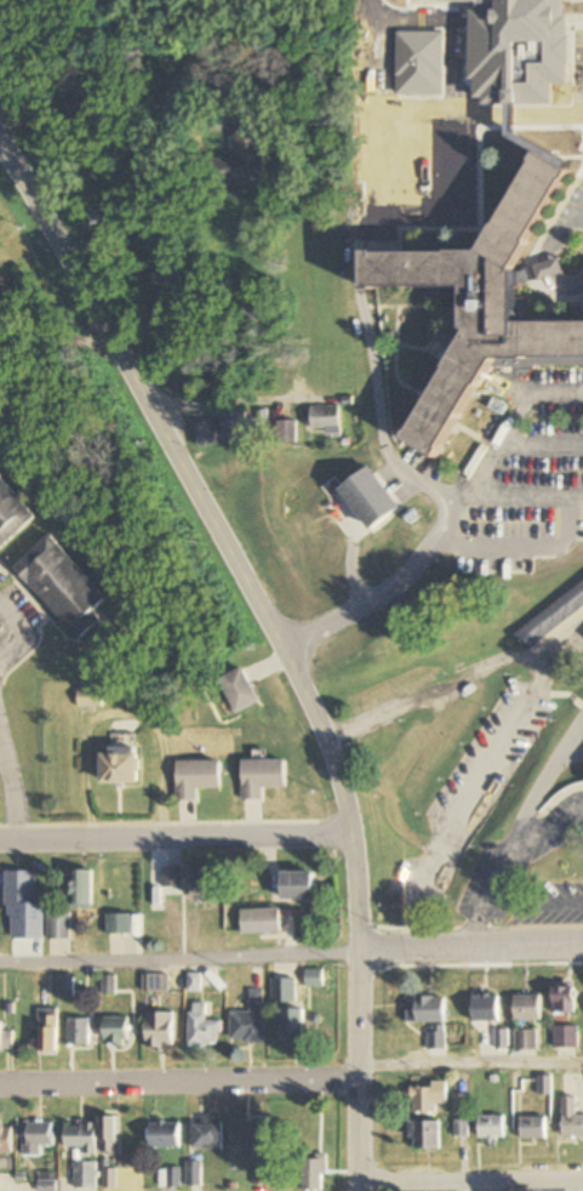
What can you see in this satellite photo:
road: (385, 57)
building: (493, 58)
road: (86, 103)
road: (234, 108)
road: (481, 114)
building: (370, 146)
building: (242, 163)
building: (109, 207)
building: (481, 303)
road: (225, 401)
building: (326, 420)
building: (240, 426)
building: (206, 434)
road: (184, 481)
building: (12, 513)
building: (304, 557)
building: (62, 586)
building: (551, 617)
road: (448, 683)
building: (119, 767)
road: (10, 798)
road: (463, 802)
road: (187, 836)
road: (10, 839)
road: (504, 862)
building: (170, 878)
building: (198, 884)
building: (298, 887)
building: (19, 889)
building: (80, 890)
road: (355, 891)
road: (533, 904)
building: (261, 922)
building: (119, 924)
building: (59, 927)
road: (471, 950)
road: (179, 954)
building: (314, 978)
building: (156, 984)
building: (285, 991)
building: (564, 999)
building: (486, 1008)
building: (527, 1008)
building: (427, 1010)
building: (250, 1021)
building: (293, 1026)
building: (202, 1027)
building: (115, 1030)
building: (159, 1031)
building: (48, 1032)
building: (79, 1032)
building: (5, 1036)
building: (566, 1037)
building: (436, 1038)
building: (502, 1039)
building: (526, 1041)
road: (470, 1061)
road: (356, 1071)
road: (178, 1079)
building: (545, 1087)
building: (429, 1098)
building: (571, 1118)
building: (492, 1128)
building: (533, 1128)
building: (247, 1134)
building: (110, 1135)
building: (165, 1135)
building: (207, 1135)
building: (425, 1135)
building: (38, 1138)
building: (80, 1138)
building: (6, 1140)
building: (314, 1173)
building: (194, 1174)
building: (170, 1179)
road: (470, 1180)

